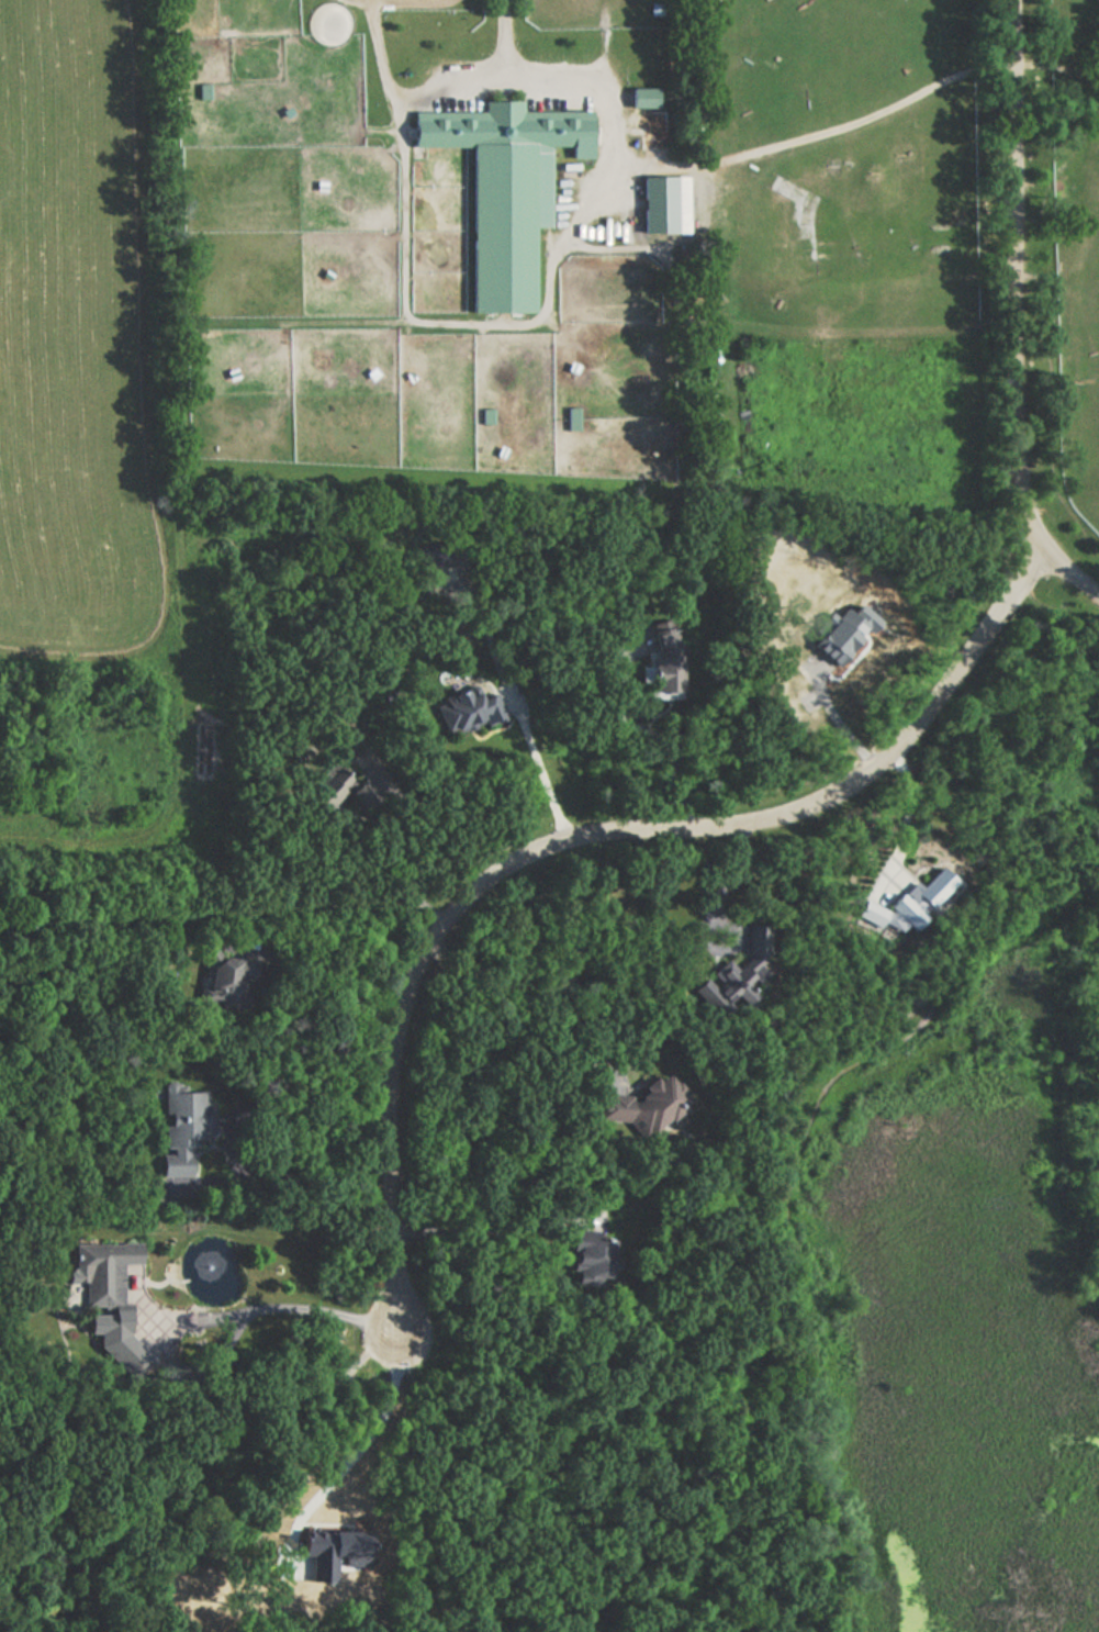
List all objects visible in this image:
road: (506, 35)
building: (642, 98)
road: (816, 136)
building: (505, 189)
building: (658, 201)
road: (1013, 313)
road: (490, 323)
building: (572, 418)
building: (671, 668)
road: (519, 698)
building: (468, 708)
road: (840, 715)
road: (657, 738)
building: (323, 795)
road: (910, 814)
road: (585, 835)
road: (396, 858)
road: (709, 914)
building: (738, 974)
road: (334, 976)
building: (229, 979)
road: (538, 994)
building: (655, 1107)
building: (184, 1117)
road: (242, 1161)
road: (480, 1222)
building: (593, 1264)
building: (105, 1275)
road: (255, 1304)
road: (195, 1368)
road: (360, 1452)

